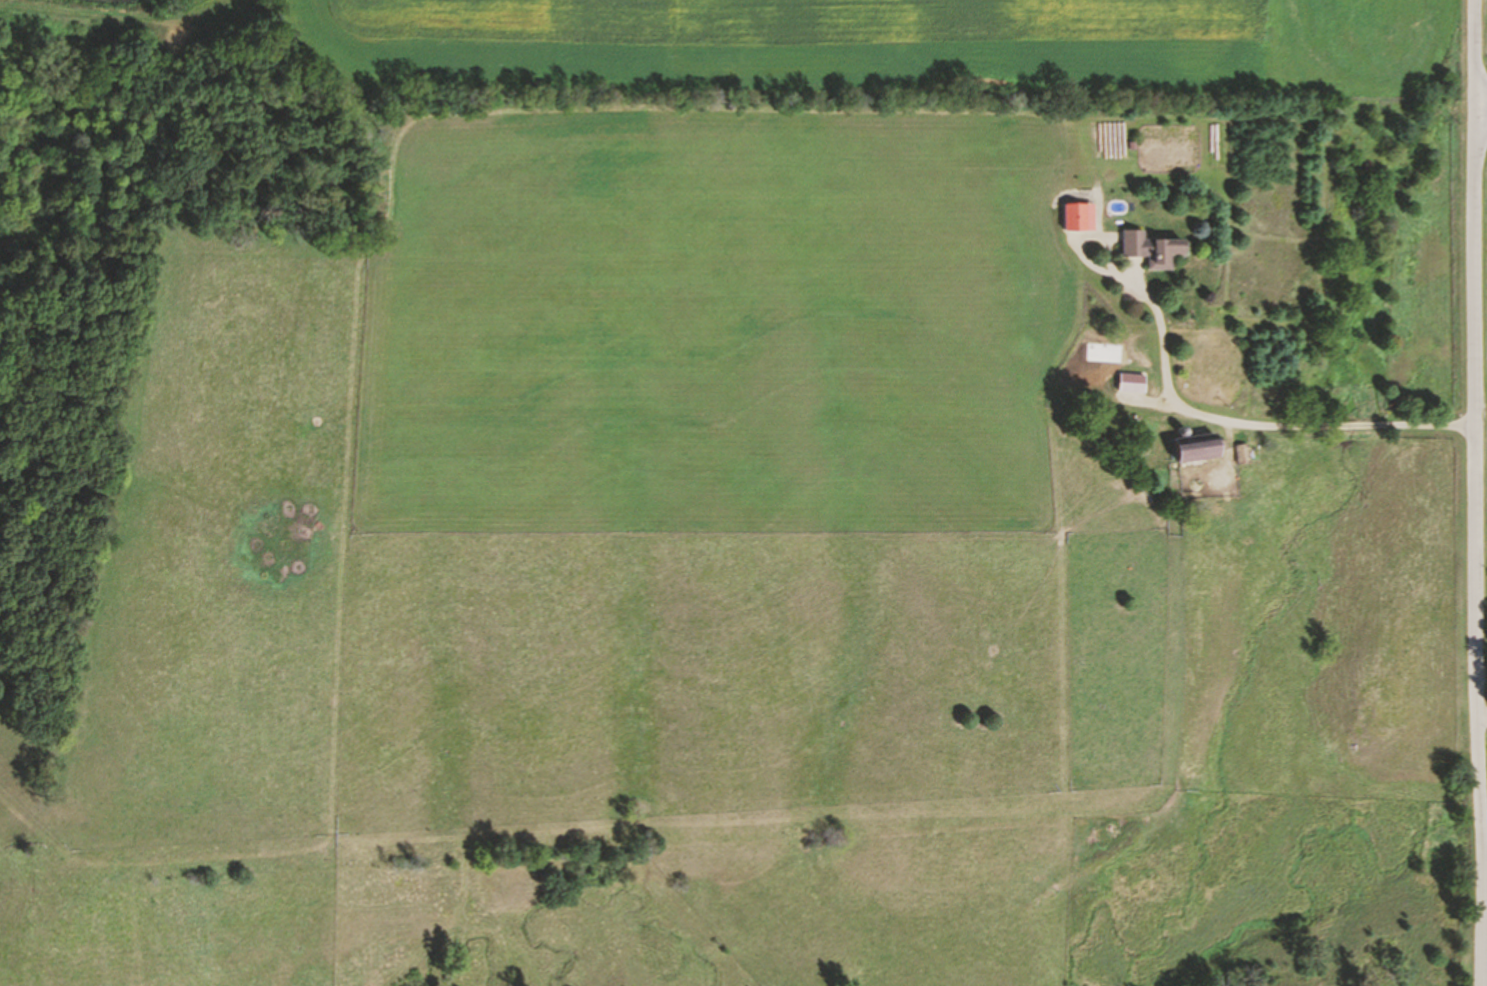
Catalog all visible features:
road: (1480, 103)
building: (1081, 217)
building: (1156, 249)
building: (1134, 382)
building: (1199, 447)
road: (1475, 493)

